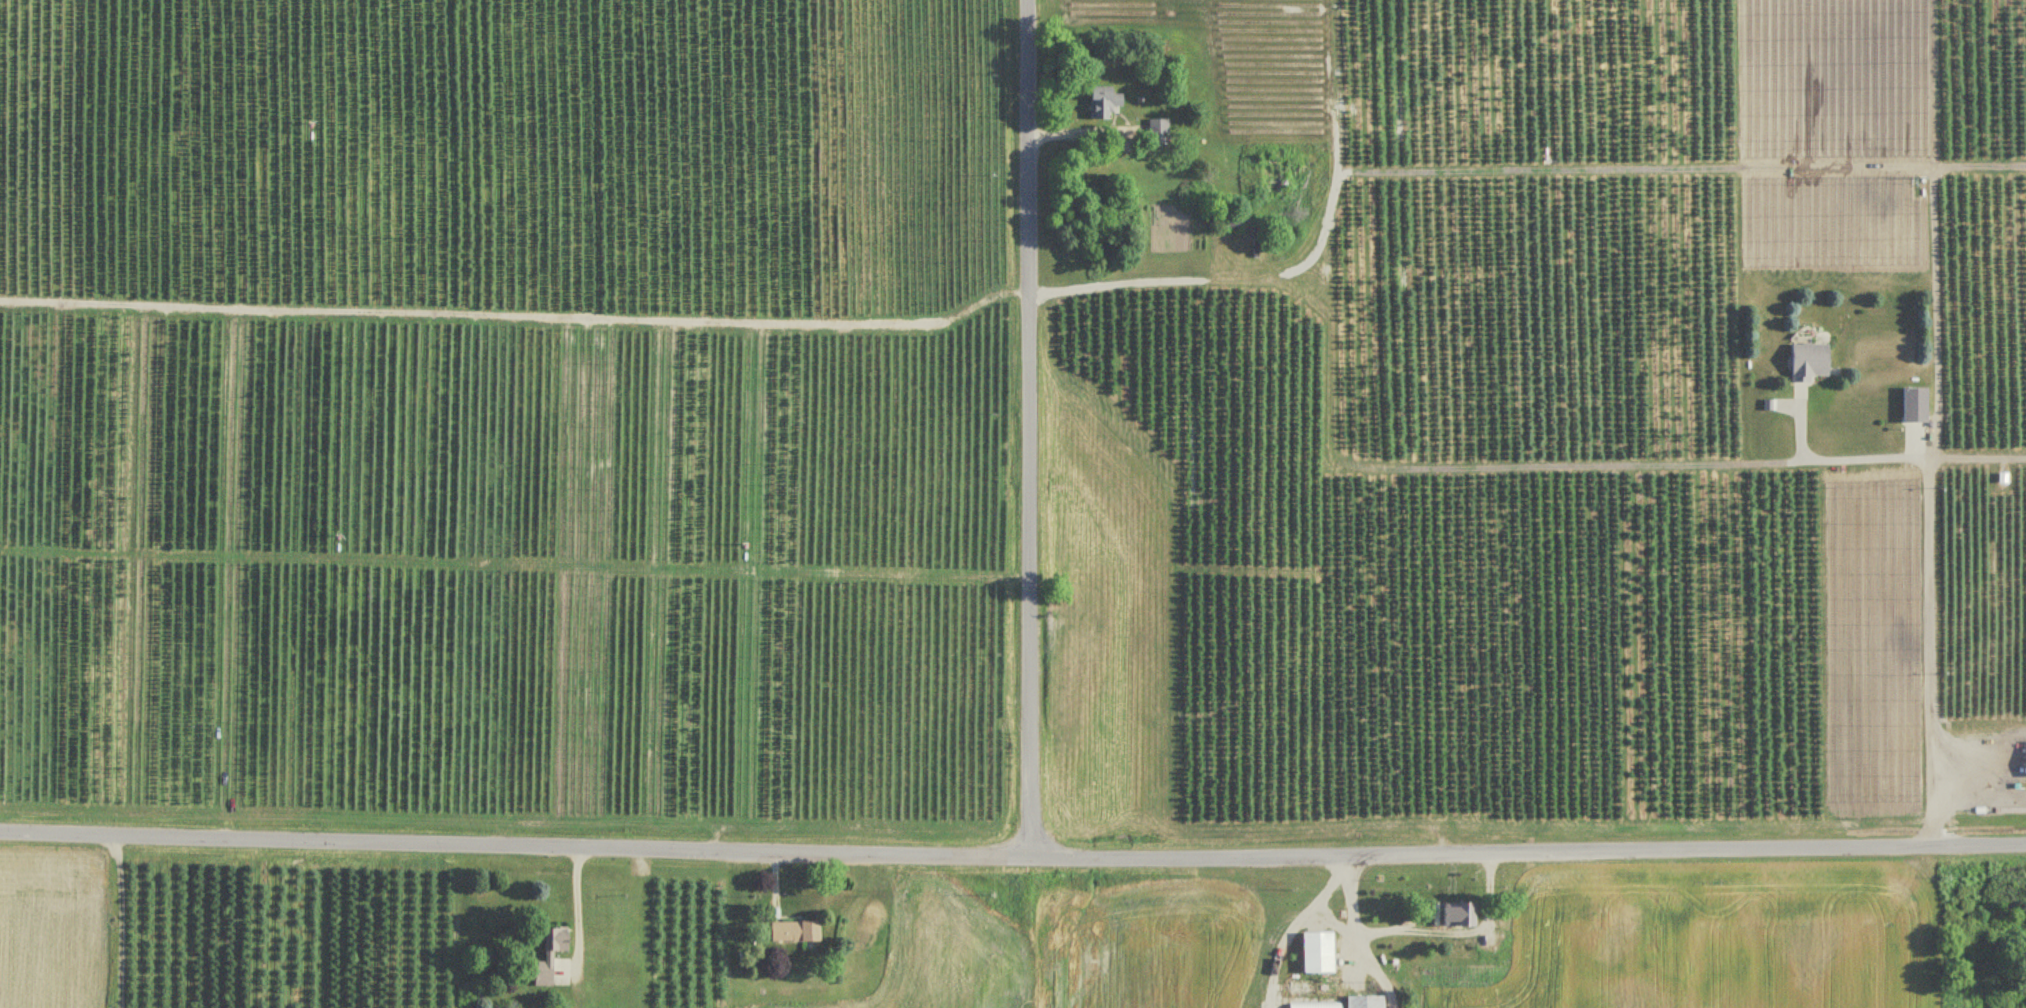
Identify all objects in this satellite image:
building: (1105, 102)
building: (1160, 131)
road: (518, 315)
building: (1804, 362)
building: (1910, 405)
road: (1028, 429)
road: (1929, 592)
building: (2024, 760)
road: (1012, 859)
road: (578, 907)
building: (1462, 913)
crop: (51, 927)
road: (1419, 928)
building: (797, 930)
building: (1491, 941)
building: (552, 955)
road: (1364, 968)
building: (1315, 988)
building: (1367, 1002)
road: (1268, 1004)

